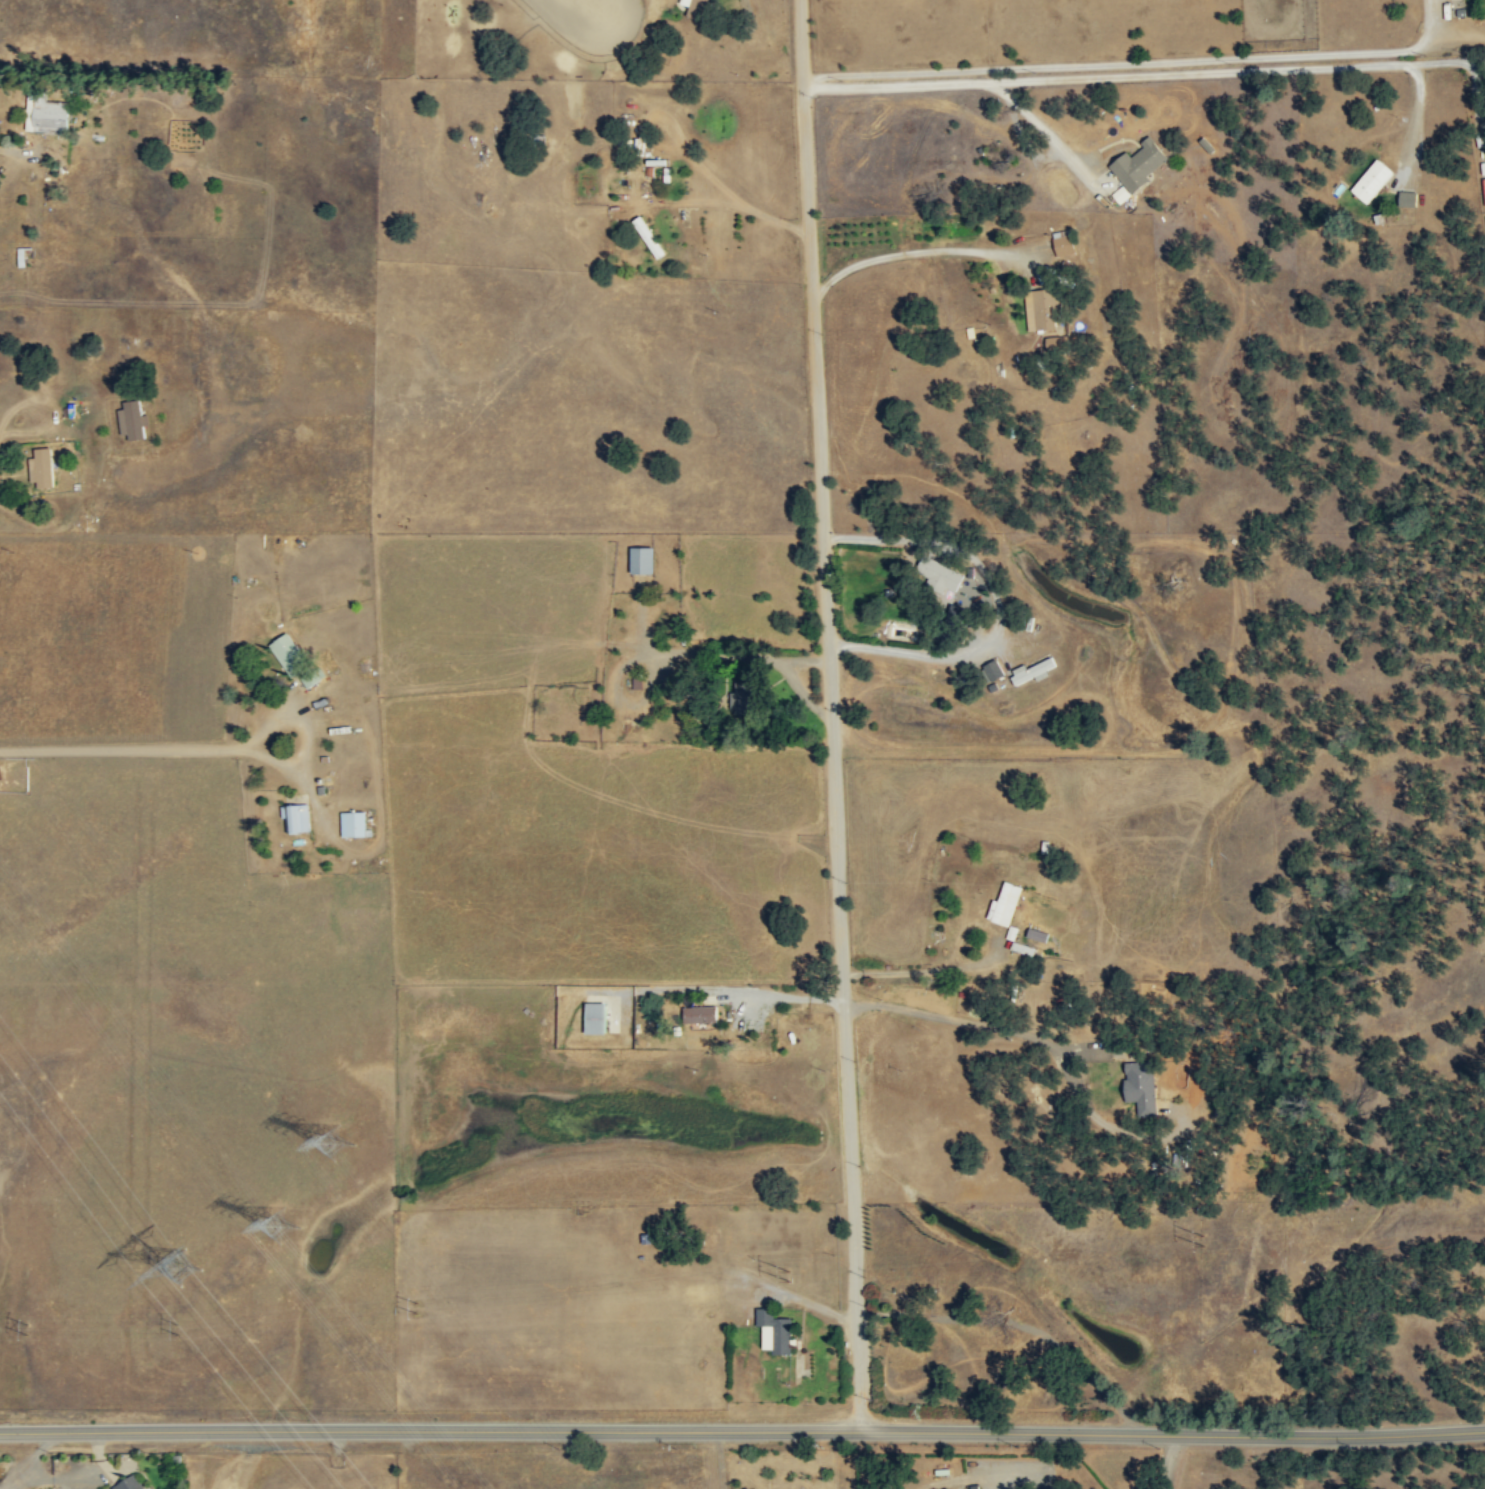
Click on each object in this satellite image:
building: (699, 8)
road: (1134, 62)
road: (1164, 74)
road: (1415, 104)
building: (45, 112)
road: (1044, 134)
road: (1022, 143)
building: (1139, 164)
building: (1368, 180)
building: (1121, 193)
building: (1405, 198)
building: (1064, 242)
road: (916, 252)
building: (1043, 309)
building: (133, 419)
building: (42, 467)
building: (644, 560)
building: (955, 622)
building: (288, 653)
building: (996, 670)
building: (1034, 671)
building: (311, 680)
building: (744, 698)
road: (832, 716)
road: (309, 744)
road: (123, 750)
building: (296, 818)
building: (353, 824)
building: (1007, 903)
road: (940, 971)
road: (777, 995)
building: (701, 1014)
building: (596, 1018)
road: (975, 1023)
building: (1137, 1085)
power tower: (344, 1135)
power tower: (269, 1227)
power tower: (1196, 1245)
power tower: (203, 1262)
power tower: (786, 1277)
power tower: (450, 1309)
building: (770, 1330)
power tower: (21, 1333)
power tower: (177, 1333)
road: (742, 1432)
building: (125, 1483)

